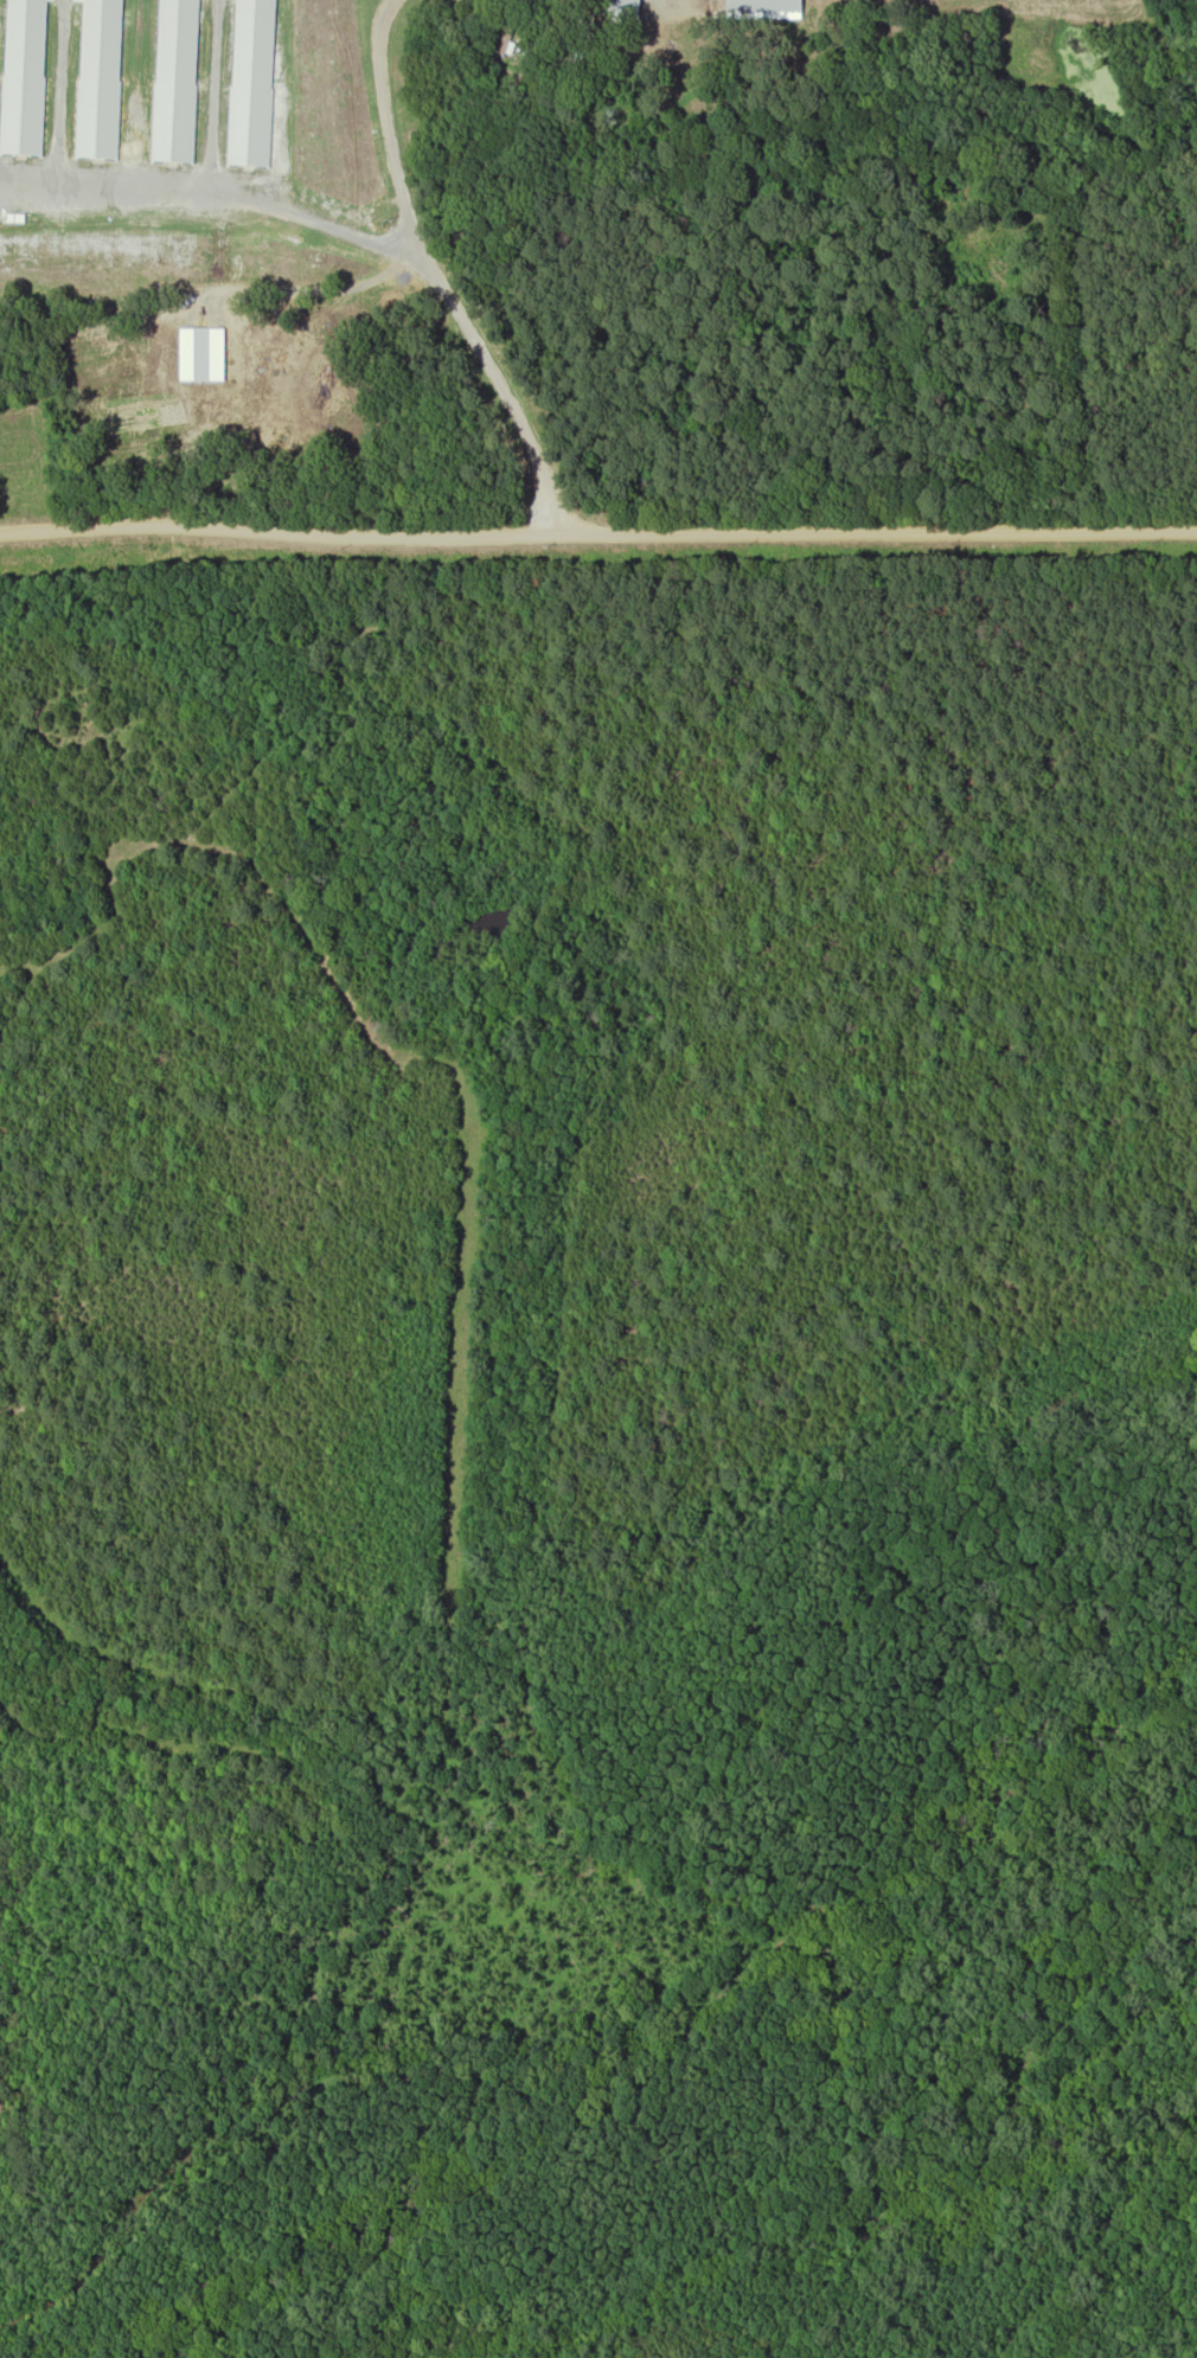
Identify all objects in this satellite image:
building: (626, 2)
building: (767, 5)
road: (109, 369)
road: (598, 538)

